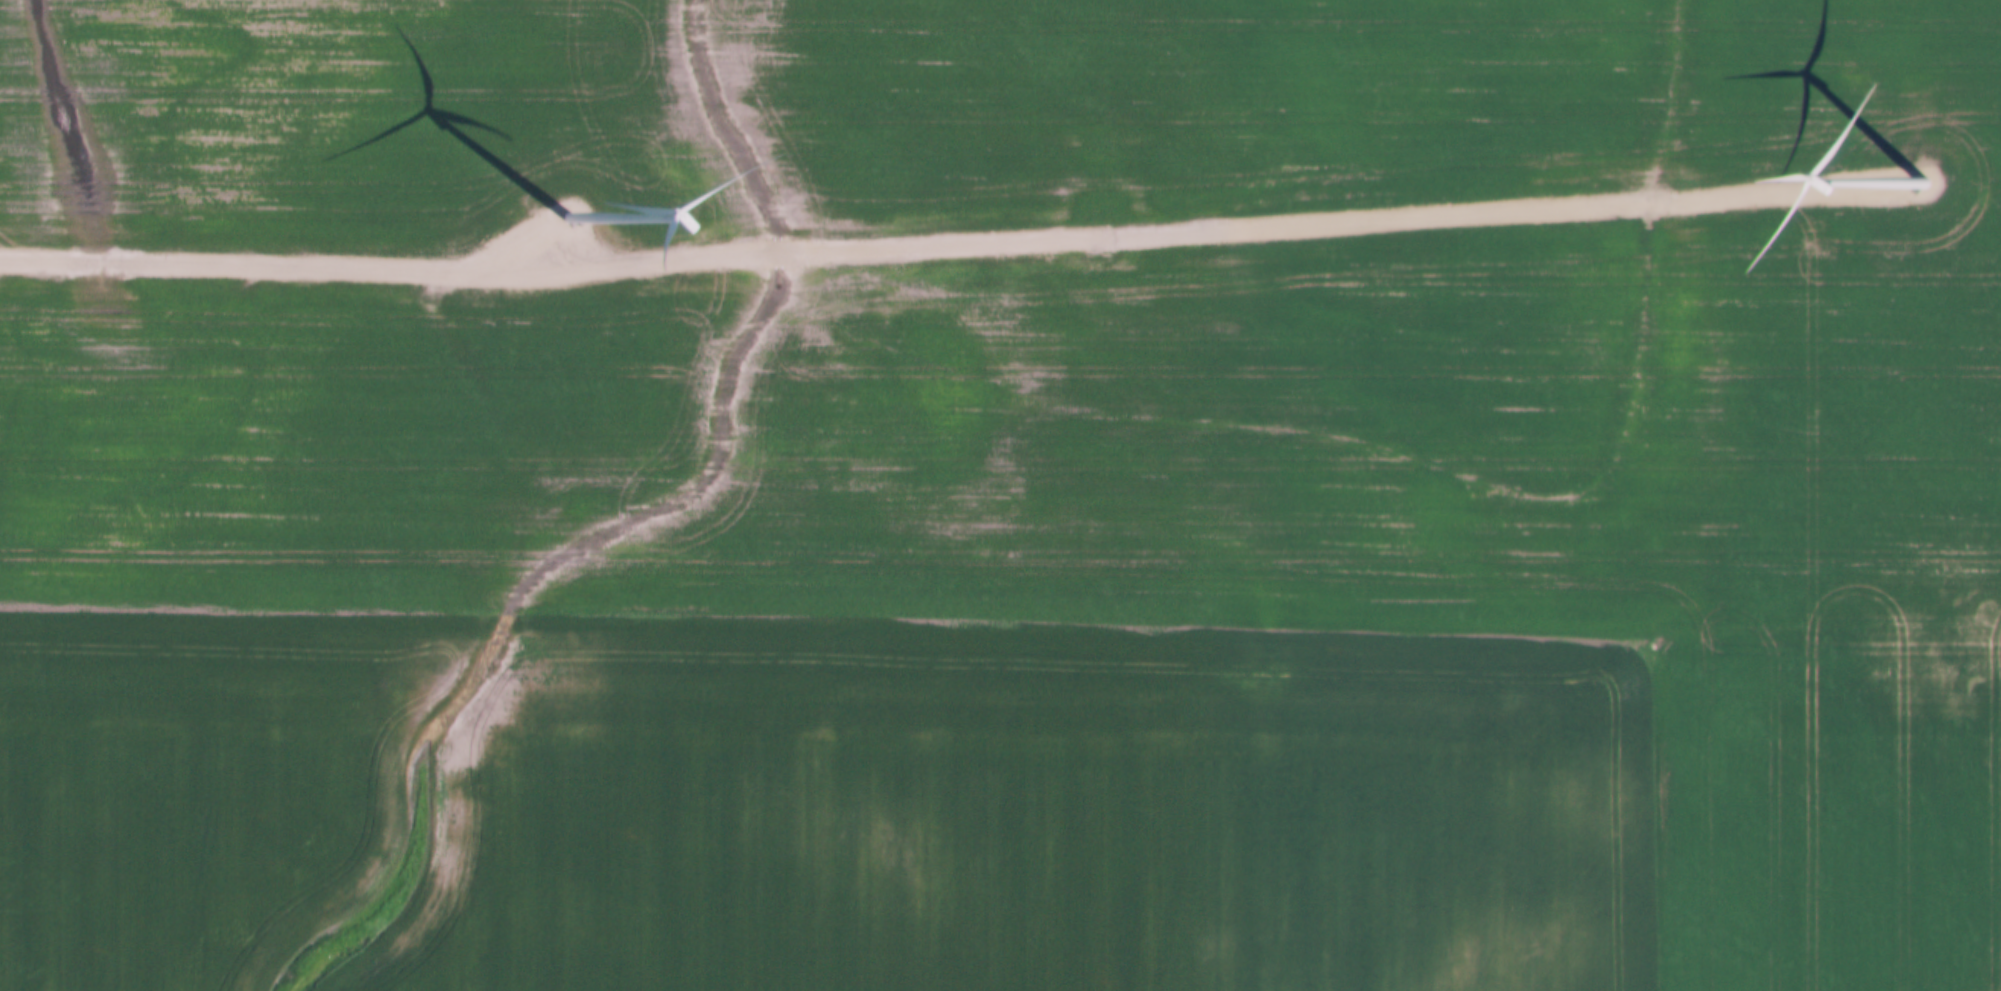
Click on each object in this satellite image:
wind turbine: (1924, 182)
building: (565, 217)
wind turbine: (569, 217)

